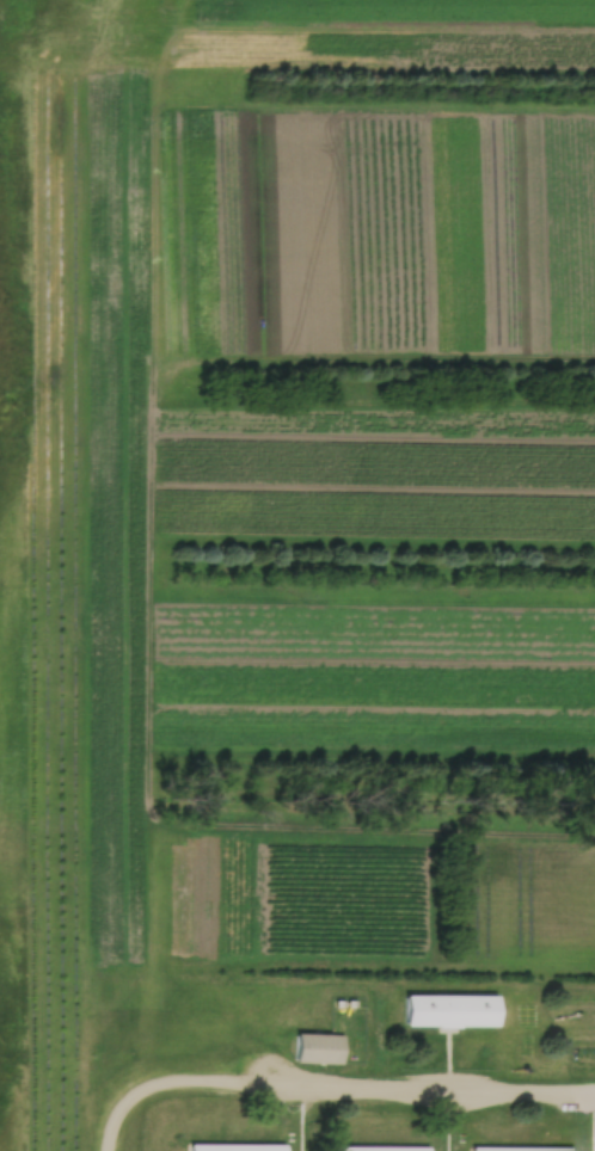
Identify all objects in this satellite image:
building: (446, 1009)
building: (313, 1046)
building: (222, 1146)
building: (370, 1149)
building: (517, 1149)

